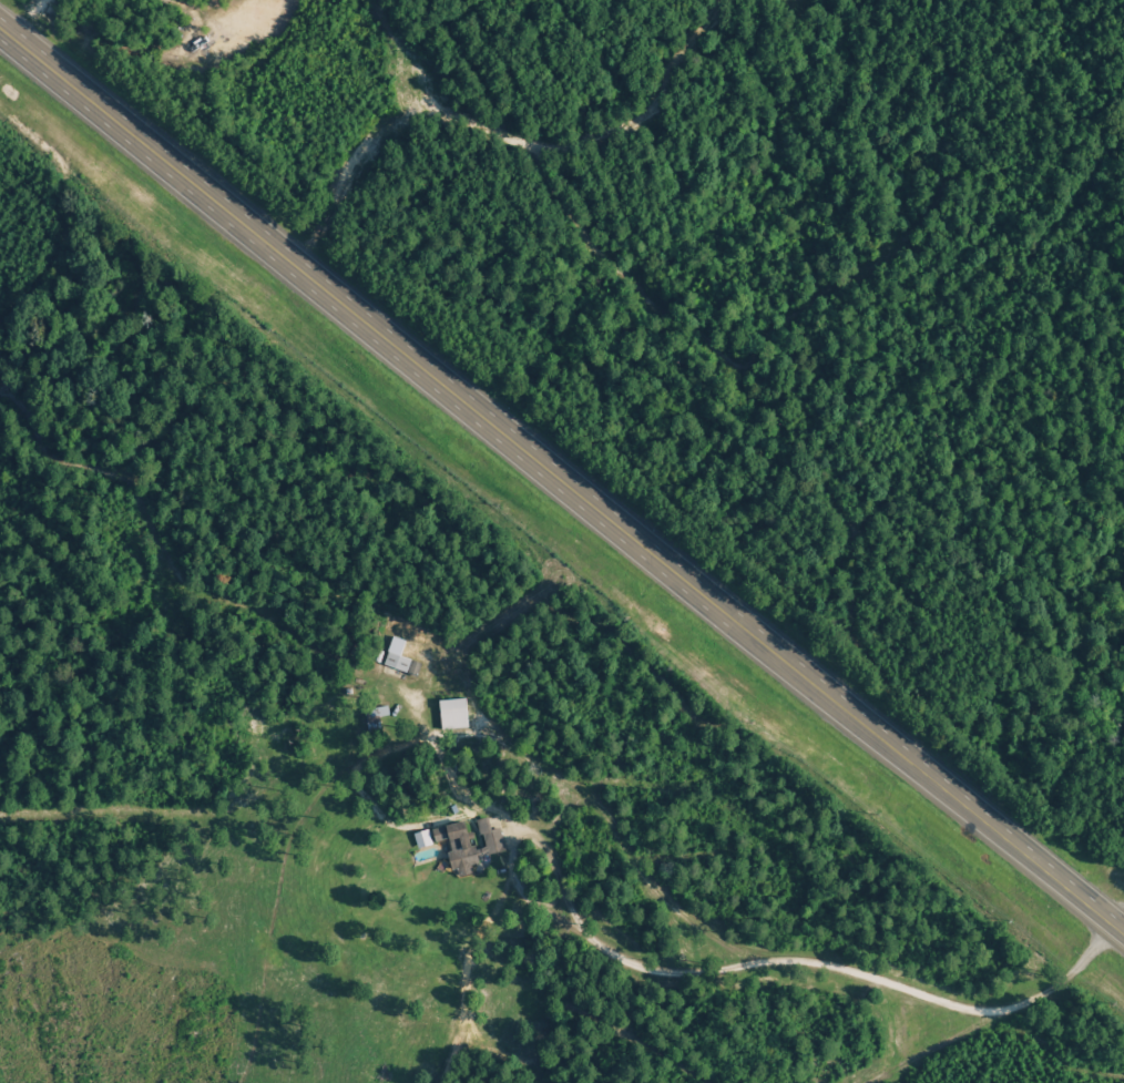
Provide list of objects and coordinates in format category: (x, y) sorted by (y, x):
road: (561, 479)
building: (402, 663)
building: (452, 713)
building: (489, 836)
building: (421, 838)
building: (456, 846)

